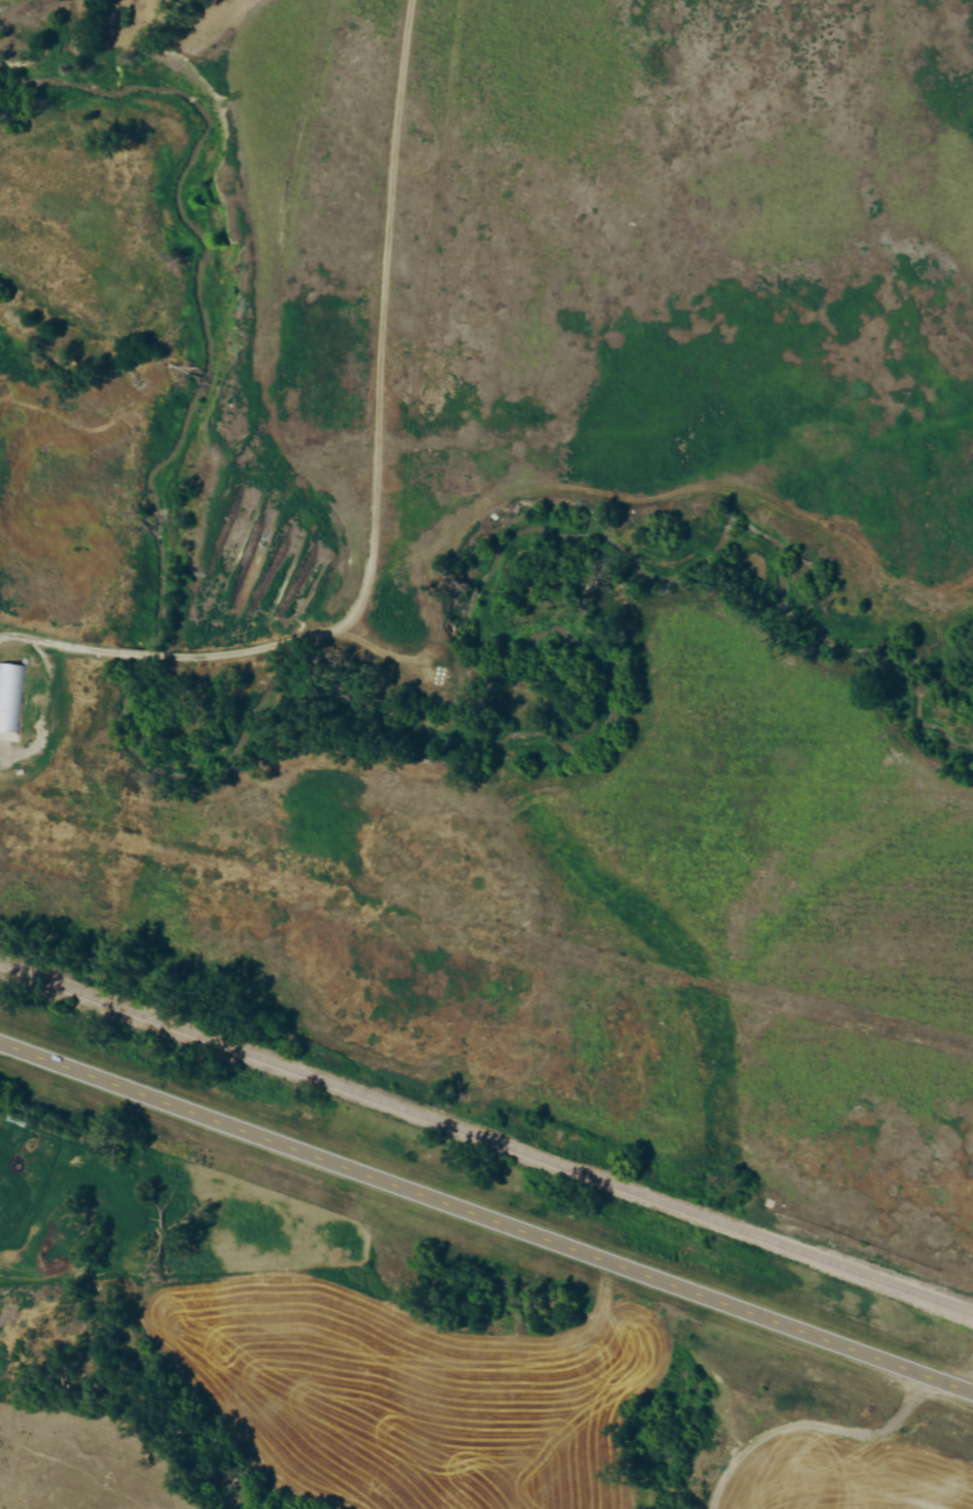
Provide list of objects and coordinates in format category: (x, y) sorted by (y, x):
building: (10, 698)
railway: (486, 1139)
road: (486, 1219)
crop: (405, 1393)
crop: (852, 1477)

